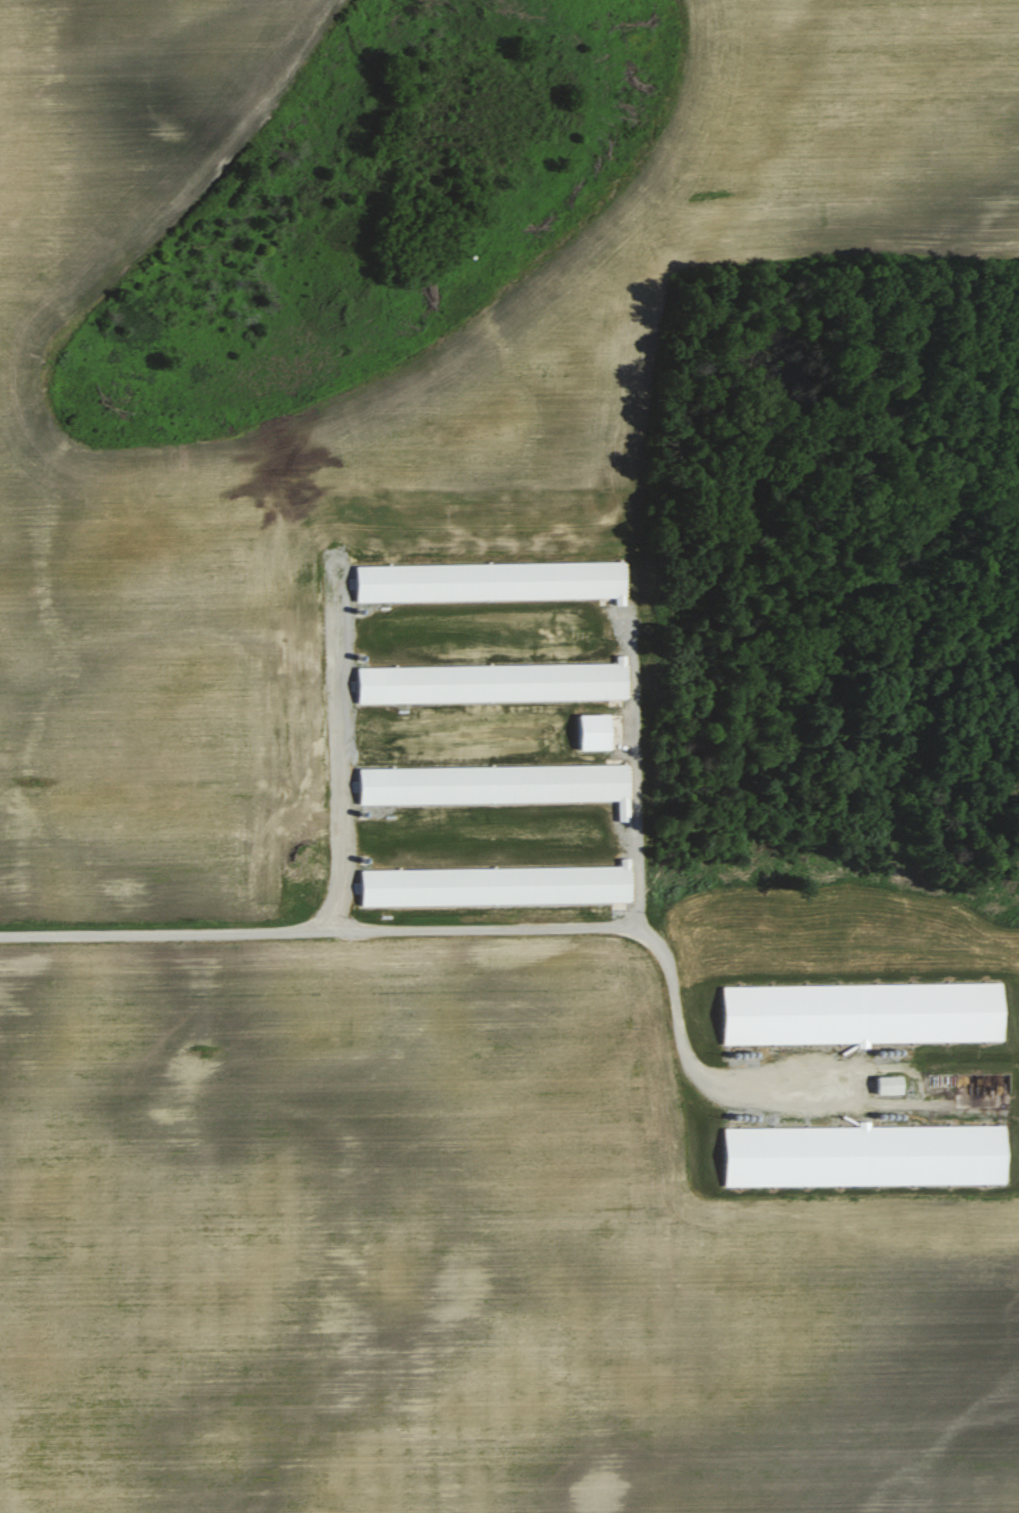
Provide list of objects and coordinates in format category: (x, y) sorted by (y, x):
road: (338, 755)
road: (634, 771)
road: (470, 924)
building: (865, 1013)
building: (892, 1083)
building: (868, 1154)

